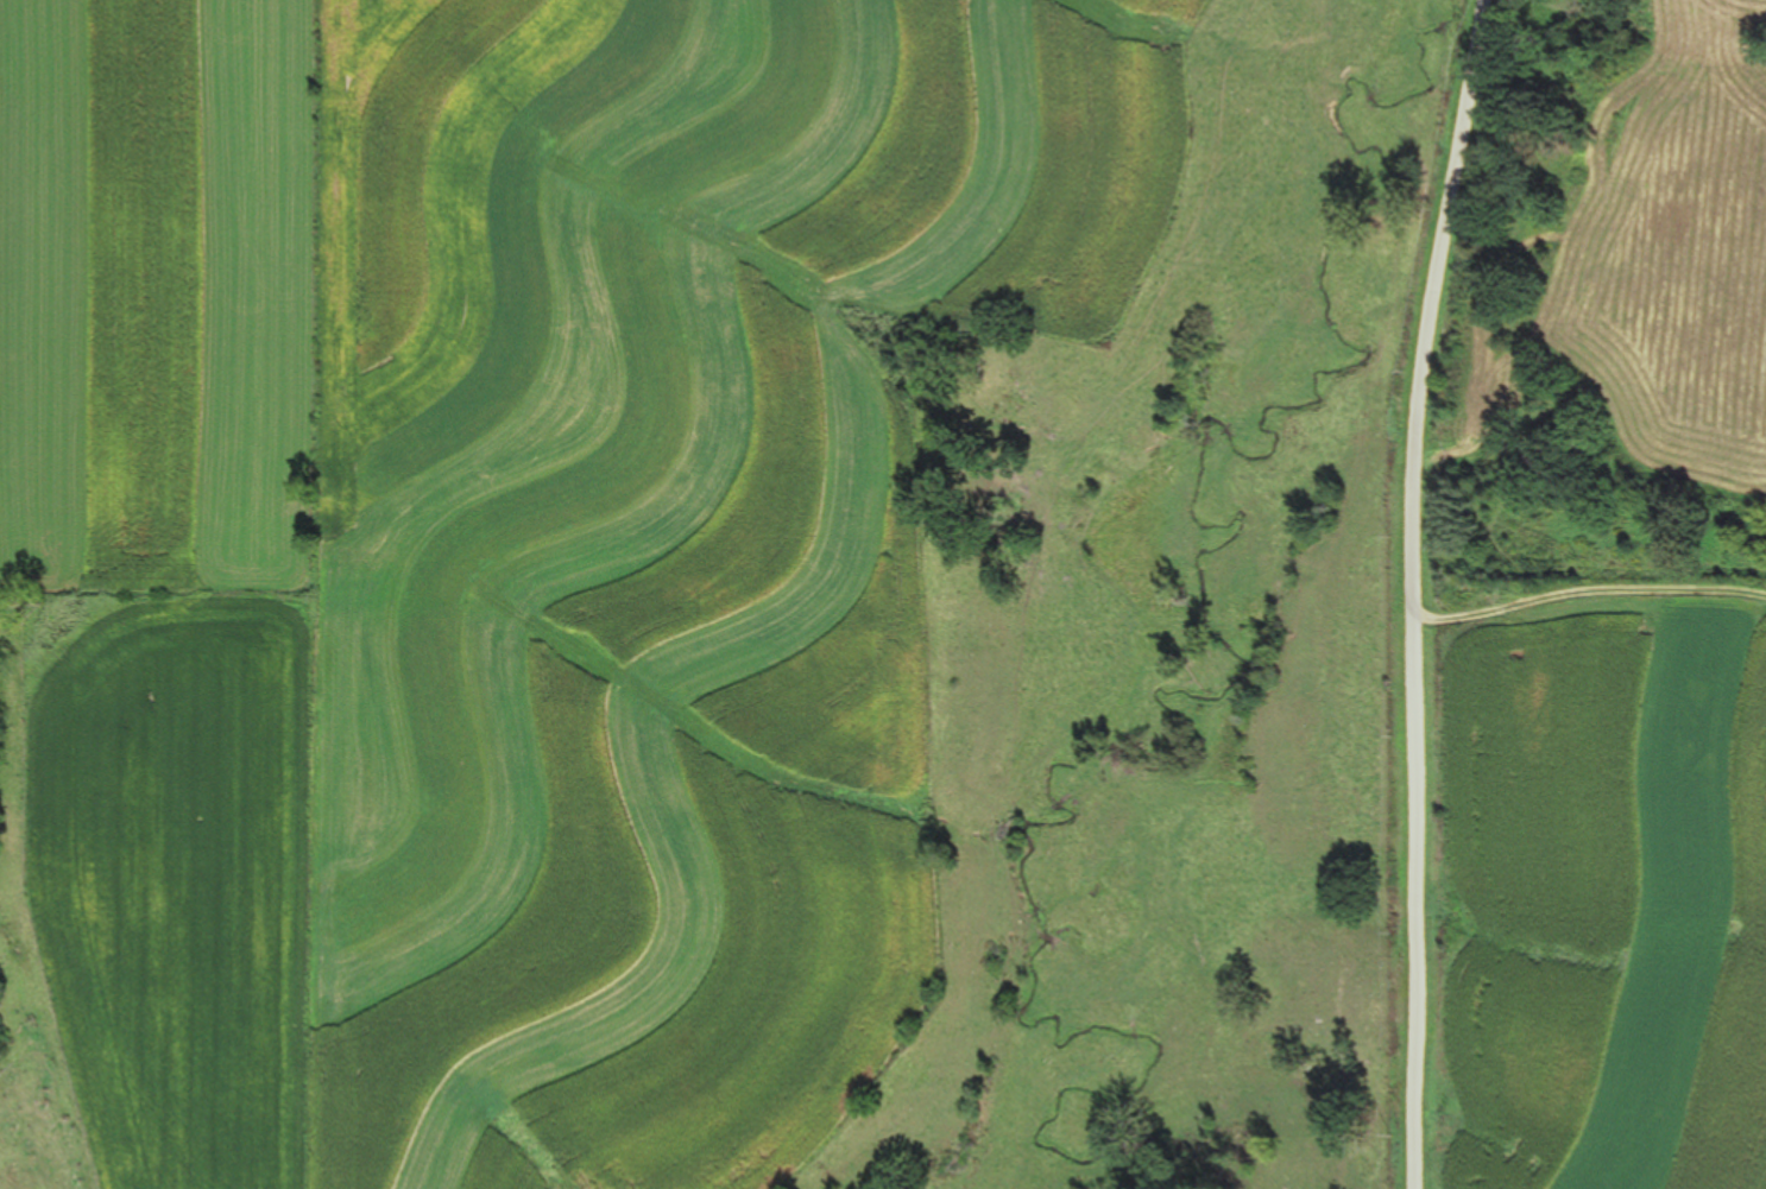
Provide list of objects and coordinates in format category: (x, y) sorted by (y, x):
road: (1414, 590)

